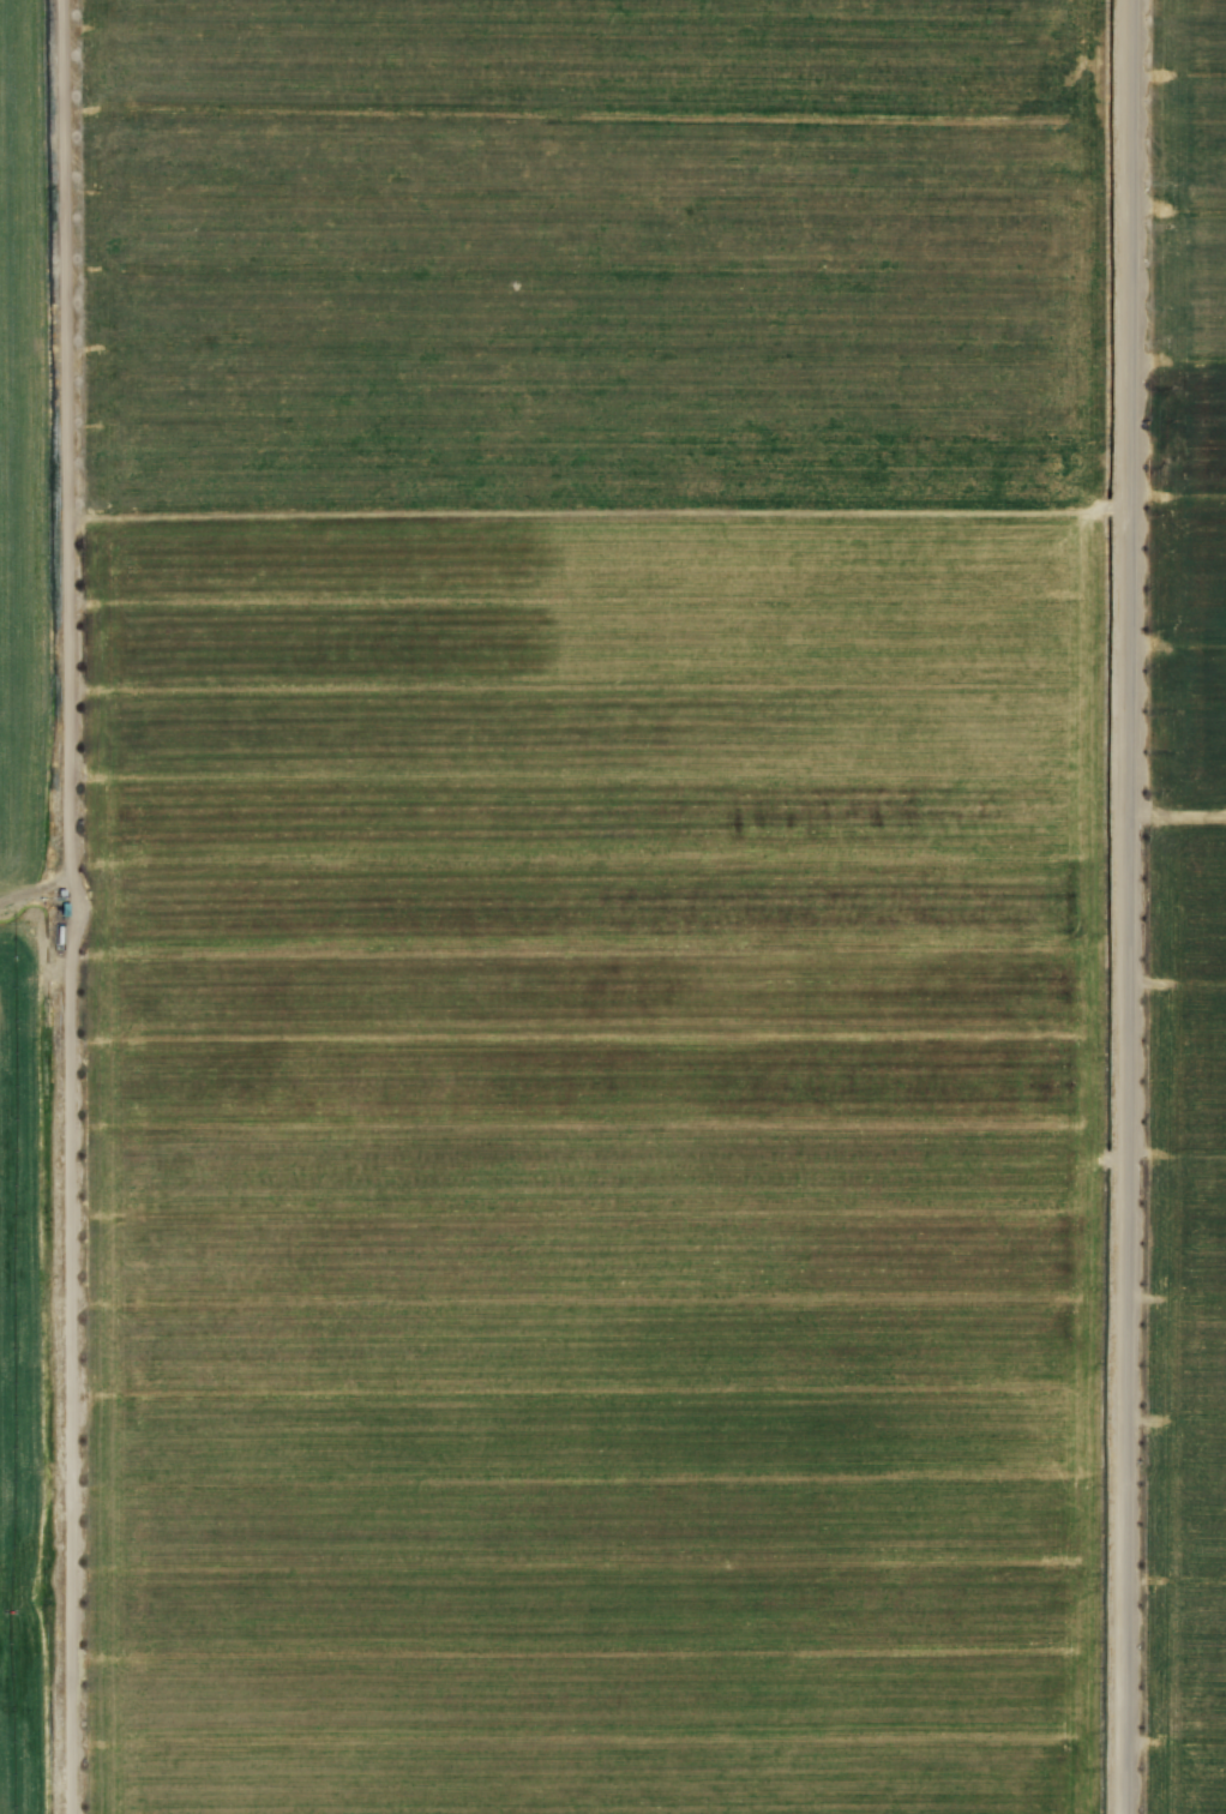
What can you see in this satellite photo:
road: (1124, 907)

